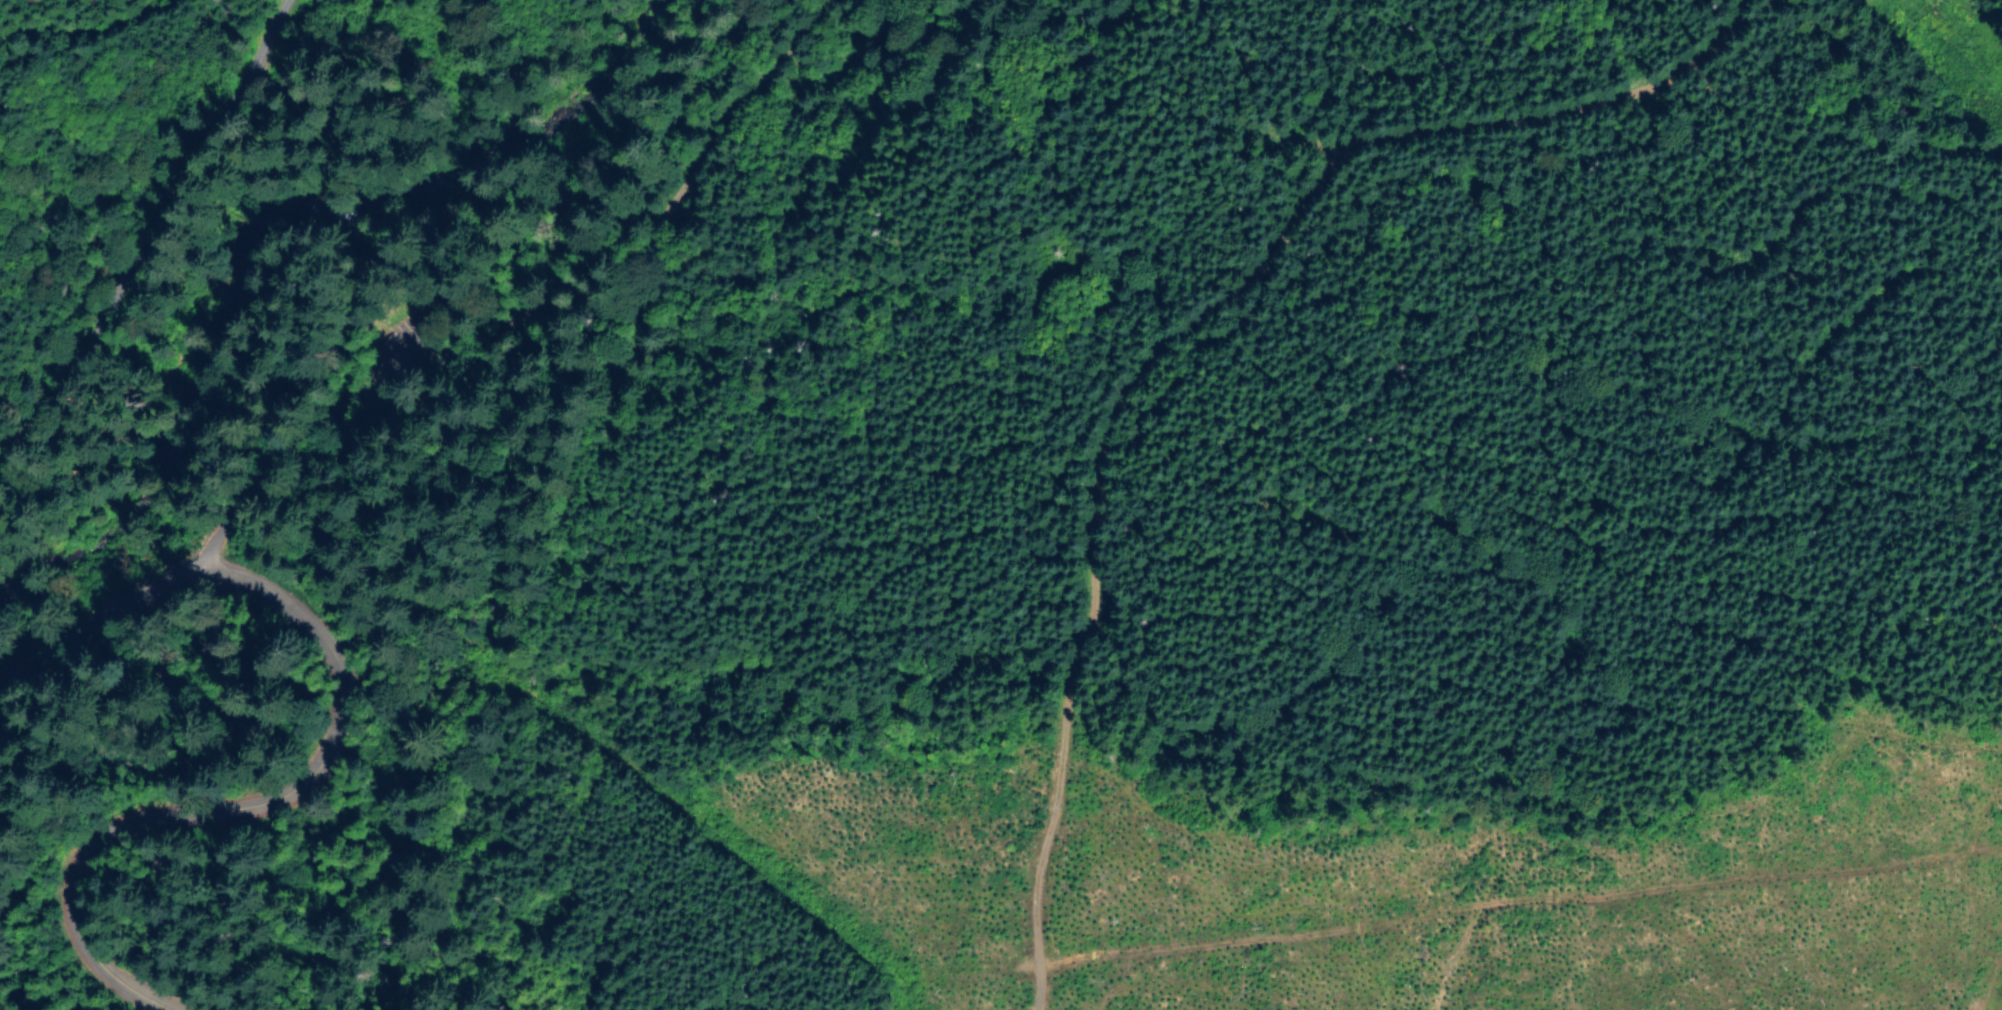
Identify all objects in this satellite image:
road: (1814, 134)
road: (656, 202)
road: (157, 223)
road: (329, 310)
road: (1180, 342)
parking lot: (395, 345)
road: (301, 435)
road: (341, 445)
road: (320, 737)
road: (21, 755)
road: (1519, 910)

